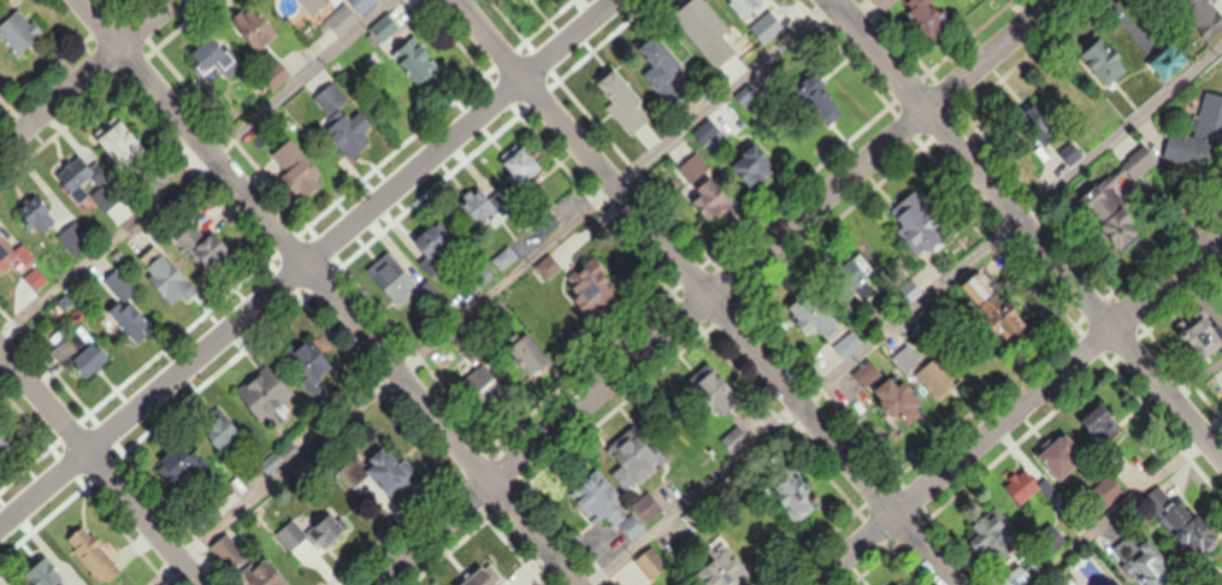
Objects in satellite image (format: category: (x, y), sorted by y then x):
building: (530, 0)
building: (1206, 2)
building: (313, 5)
building: (362, 5)
building: (749, 6)
building: (929, 16)
building: (341, 19)
building: (255, 26)
building: (386, 28)
building: (18, 30)
building: (217, 55)
building: (659, 59)
building: (415, 60)
building: (1173, 61)
building: (1110, 63)
road: (89, 76)
building: (625, 102)
building: (342, 119)
building: (1199, 130)
building: (120, 141)
building: (520, 162)
road: (191, 167)
building: (296, 167)
building: (756, 167)
building: (89, 184)
building: (707, 189)
building: (485, 207)
building: (1112, 212)
building: (543, 220)
building: (55, 224)
building: (920, 225)
road: (1027, 229)
building: (435, 241)
building: (207, 250)
building: (12, 253)
road: (306, 264)
building: (167, 278)
building: (402, 288)
building: (594, 290)
road: (710, 290)
road: (325, 291)
road: (489, 292)
road: (706, 292)
building: (126, 308)
building: (997, 309)
road: (904, 312)
building: (814, 313)
building: (1209, 341)
building: (81, 351)
building: (530, 355)
building: (907, 357)
building: (313, 364)
building: (939, 377)
building: (488, 388)
building: (718, 392)
building: (266, 401)
building: (904, 402)
road: (1015, 407)
building: (1103, 426)
building: (225, 432)
building: (634, 457)
building: (1063, 457)
road: (100, 466)
building: (388, 472)
building: (1027, 485)
building: (792, 495)
building: (598, 498)
road: (1123, 501)
building: (647, 506)
building: (1183, 521)
building: (632, 526)
building: (290, 534)
building: (996, 534)
building: (1050, 539)
building: (91, 555)
building: (651, 562)
building: (1150, 566)
building: (722, 571)
building: (45, 573)
building: (1025, 574)
building: (492, 583)

